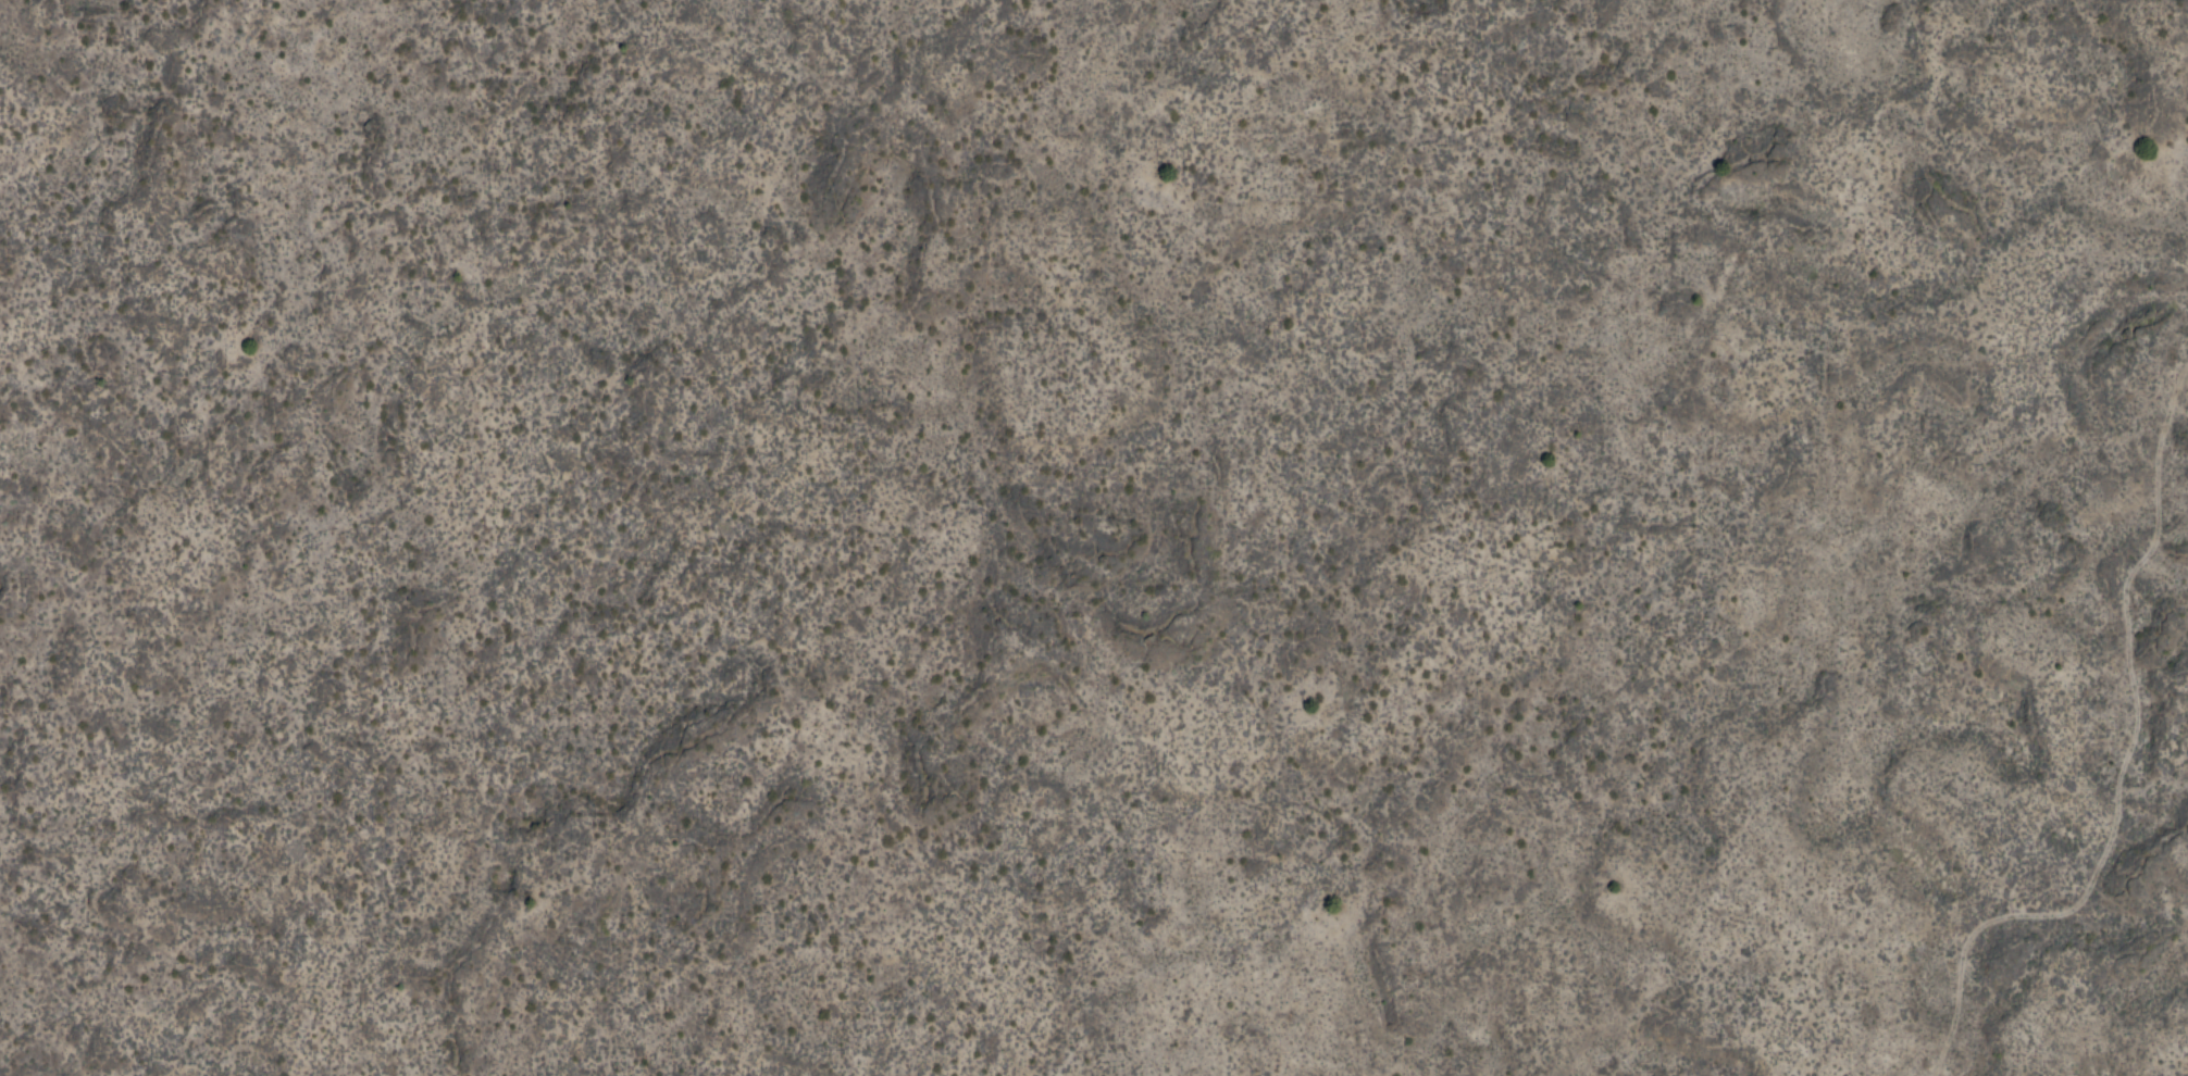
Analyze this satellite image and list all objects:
road: (2124, 762)

